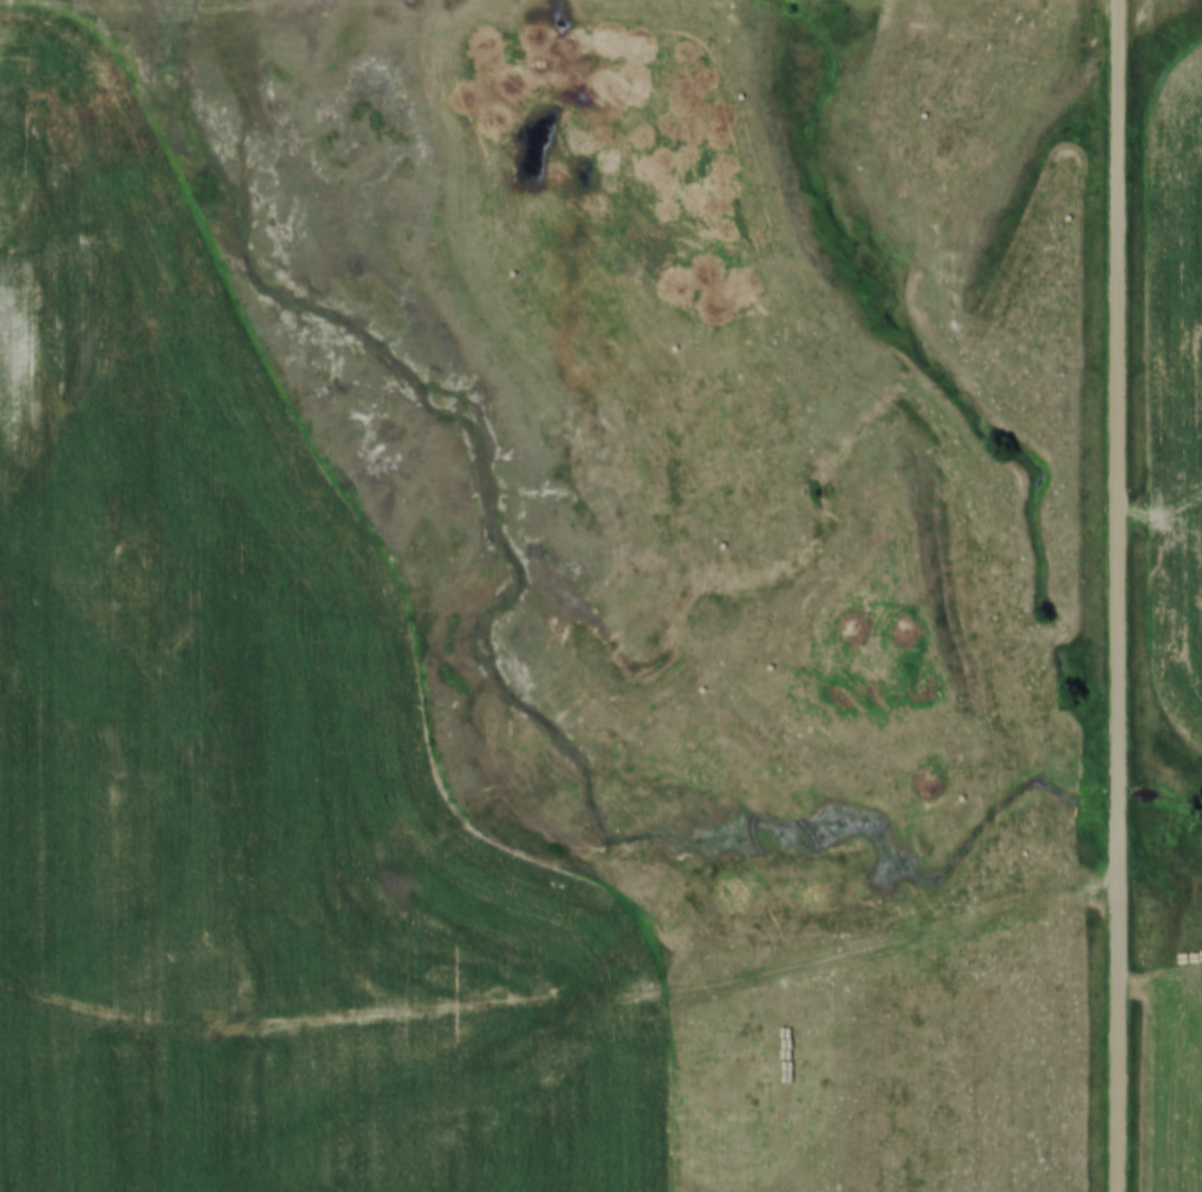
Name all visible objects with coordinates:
road: (1123, 596)

